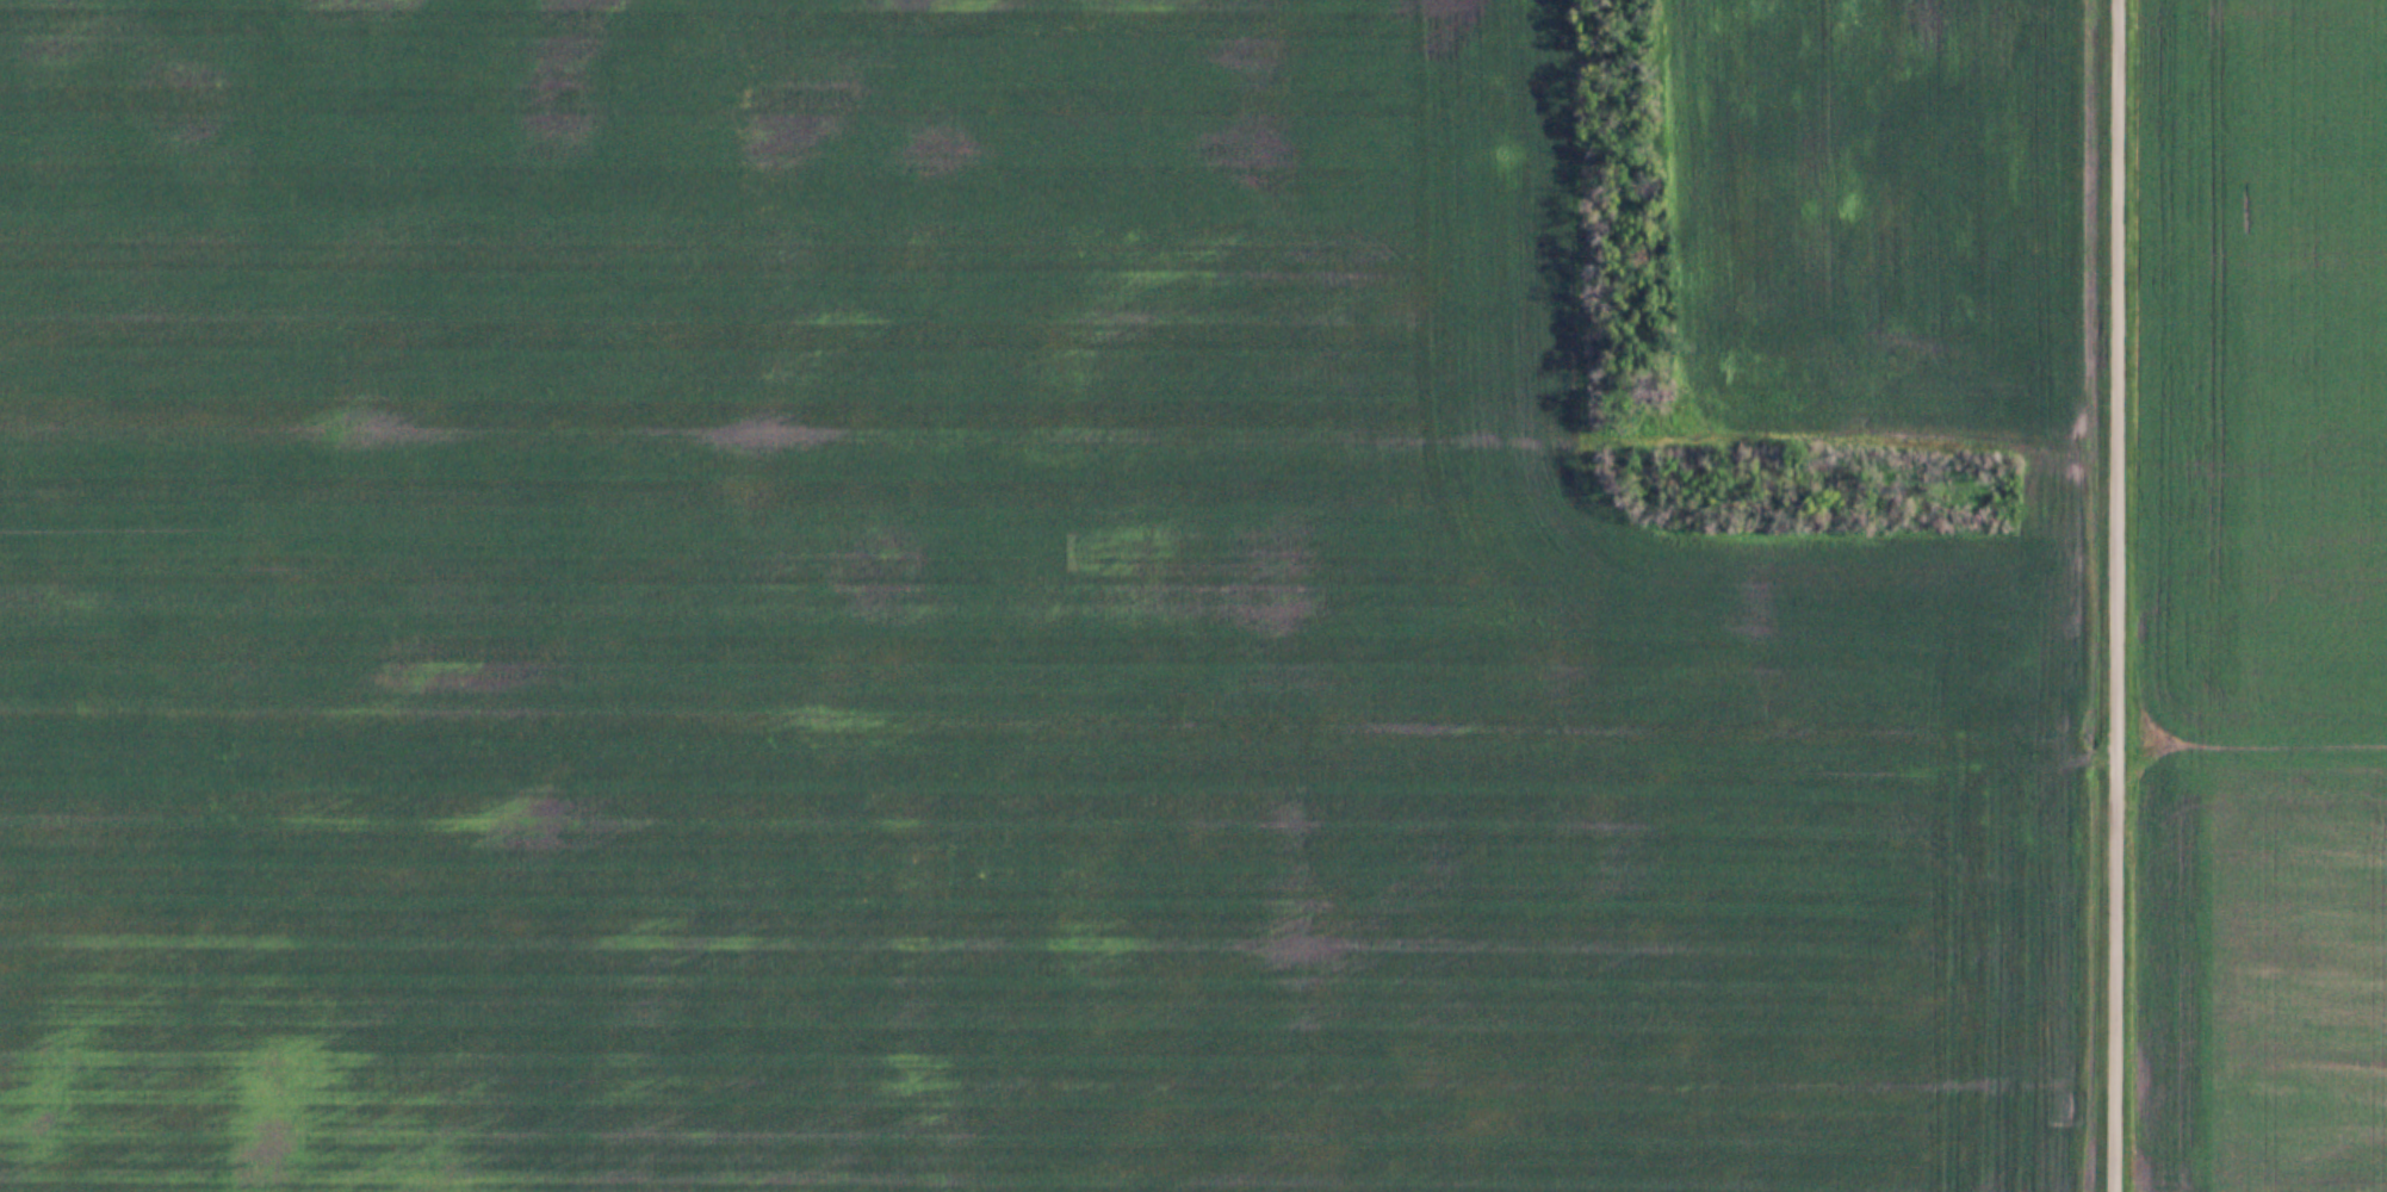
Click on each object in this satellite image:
road: (2119, 595)

